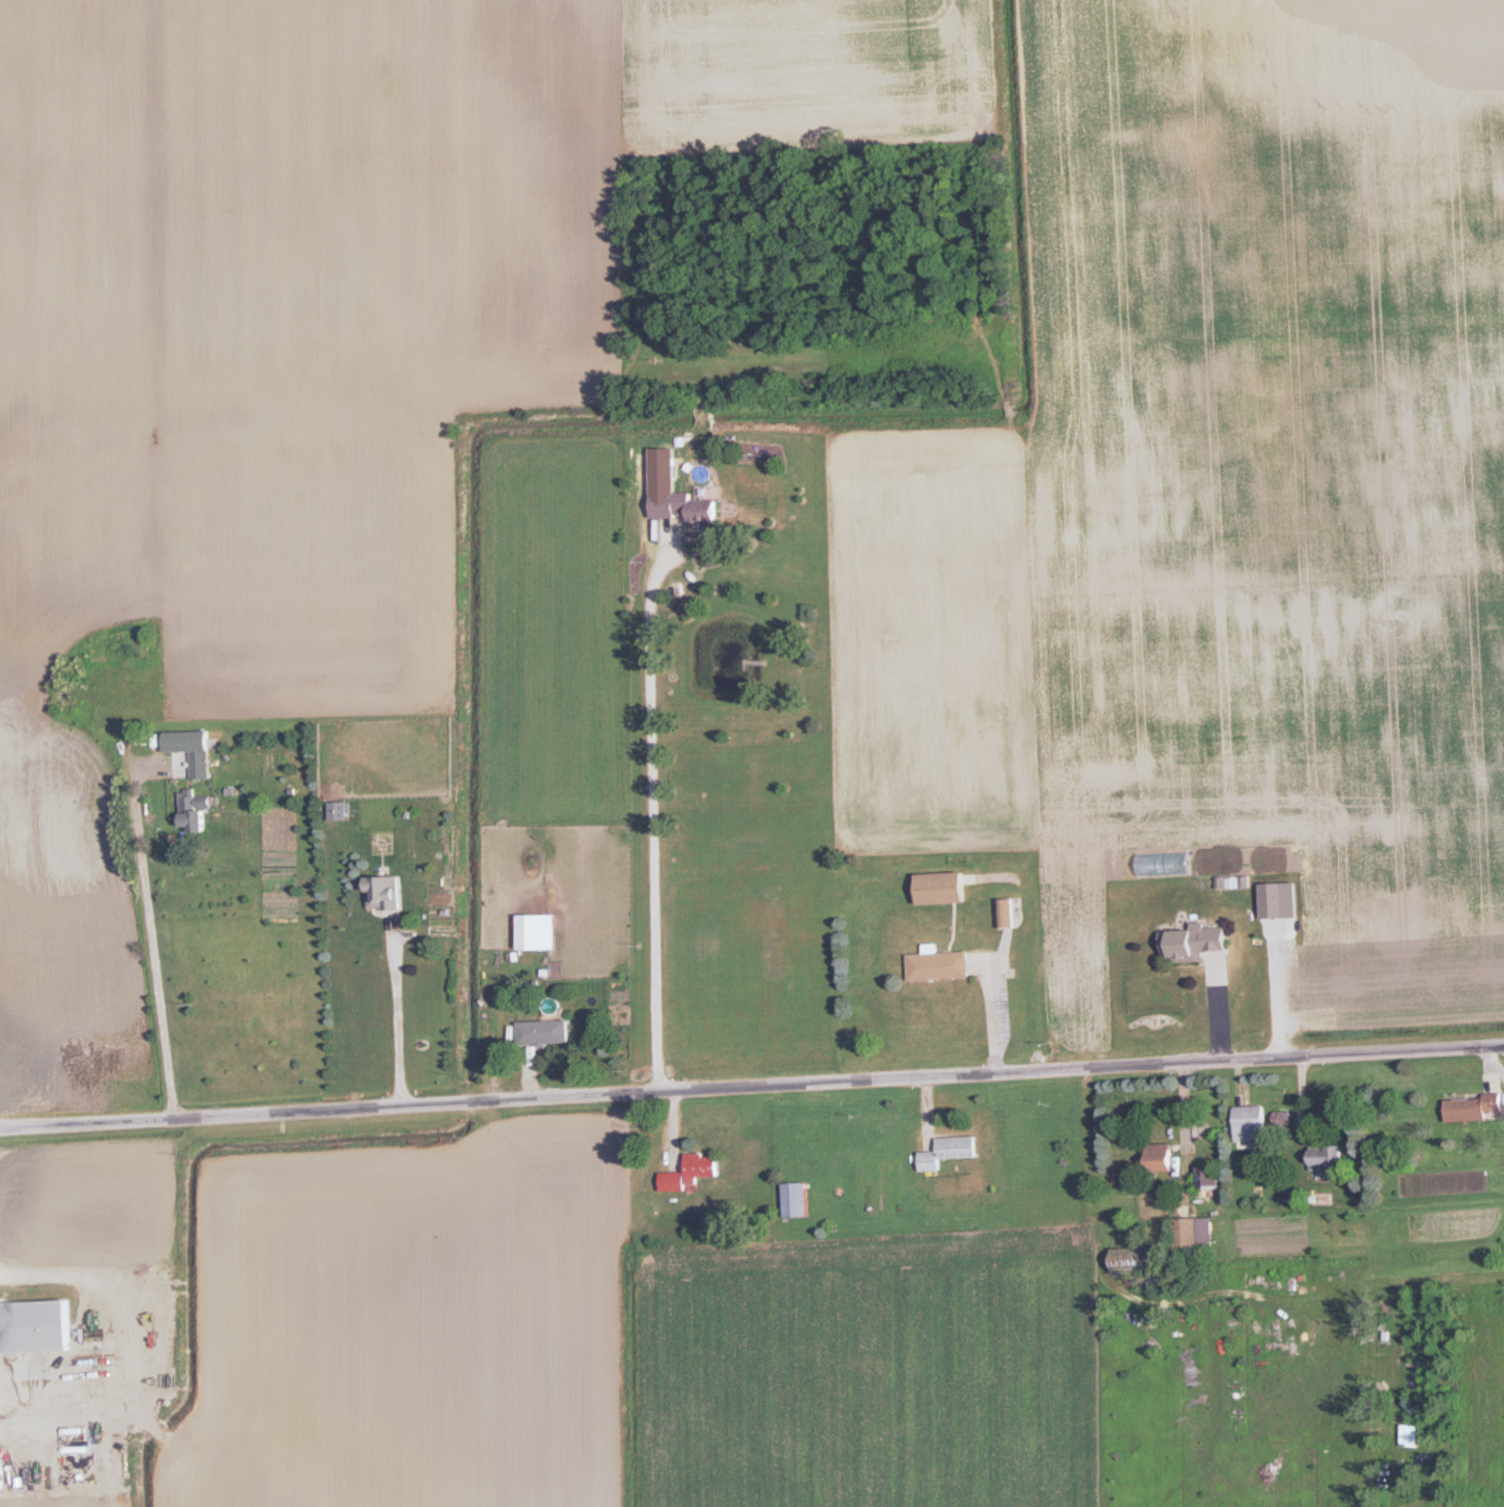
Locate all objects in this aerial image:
building: (684, 506)
building: (200, 763)
road: (651, 809)
building: (340, 810)
building: (195, 811)
building: (941, 887)
building: (386, 891)
building: (1273, 899)
building: (1004, 912)
building: (532, 931)
building: (1197, 942)
road: (152, 943)
building: (938, 964)
road: (1262, 991)
road: (398, 1014)
road: (988, 1015)
building: (544, 1032)
road: (752, 1084)
building: (1476, 1107)
building: (1249, 1118)
building: (1281, 1118)
building: (948, 1152)
building: (1160, 1156)
building: (1327, 1157)
building: (691, 1173)
building: (1208, 1177)
building: (796, 1199)
building: (1193, 1232)
building: (39, 1325)

